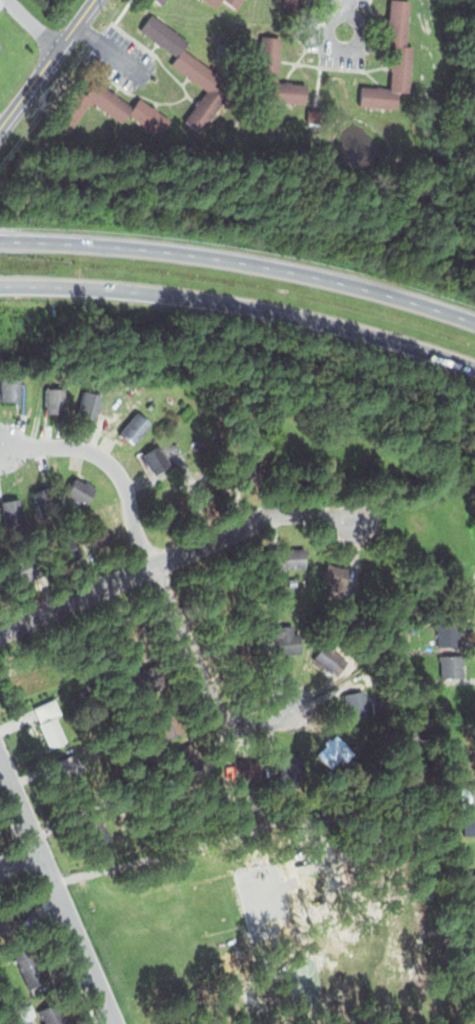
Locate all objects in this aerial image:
building: (161, 1)
building: (213, 1)
building: (235, 2)
road: (345, 2)
building: (293, 4)
road: (33, 25)
building: (0, 46)
building: (269, 59)
building: (393, 59)
road: (47, 65)
building: (190, 70)
building: (112, 107)
road: (240, 260)
road: (241, 304)
building: (10, 388)
building: (54, 400)
building: (90, 406)
building: (151, 406)
building: (134, 427)
building: (155, 459)
road: (109, 464)
building: (207, 487)
building: (80, 490)
building: (47, 501)
building: (72, 509)
building: (11, 512)
building: (96, 532)
building: (59, 550)
road: (175, 554)
building: (286, 559)
building: (19, 565)
building: (337, 576)
building: (210, 599)
building: (284, 635)
building: (448, 635)
building: (132, 640)
building: (233, 657)
building: (328, 657)
building: (452, 667)
building: (375, 671)
road: (200, 674)
building: (150, 678)
building: (358, 705)
building: (168, 718)
building: (51, 733)
building: (334, 750)
building: (194, 752)
building: (245, 768)
building: (227, 770)
building: (70, 771)
building: (292, 771)
building: (466, 793)
building: (468, 823)
building: (97, 824)
building: (471, 853)
road: (20, 860)
building: (471, 886)
road: (55, 892)
building: (9, 922)
building: (28, 961)
building: (470, 985)
building: (26, 1011)
building: (57, 1013)
building: (13, 1021)

